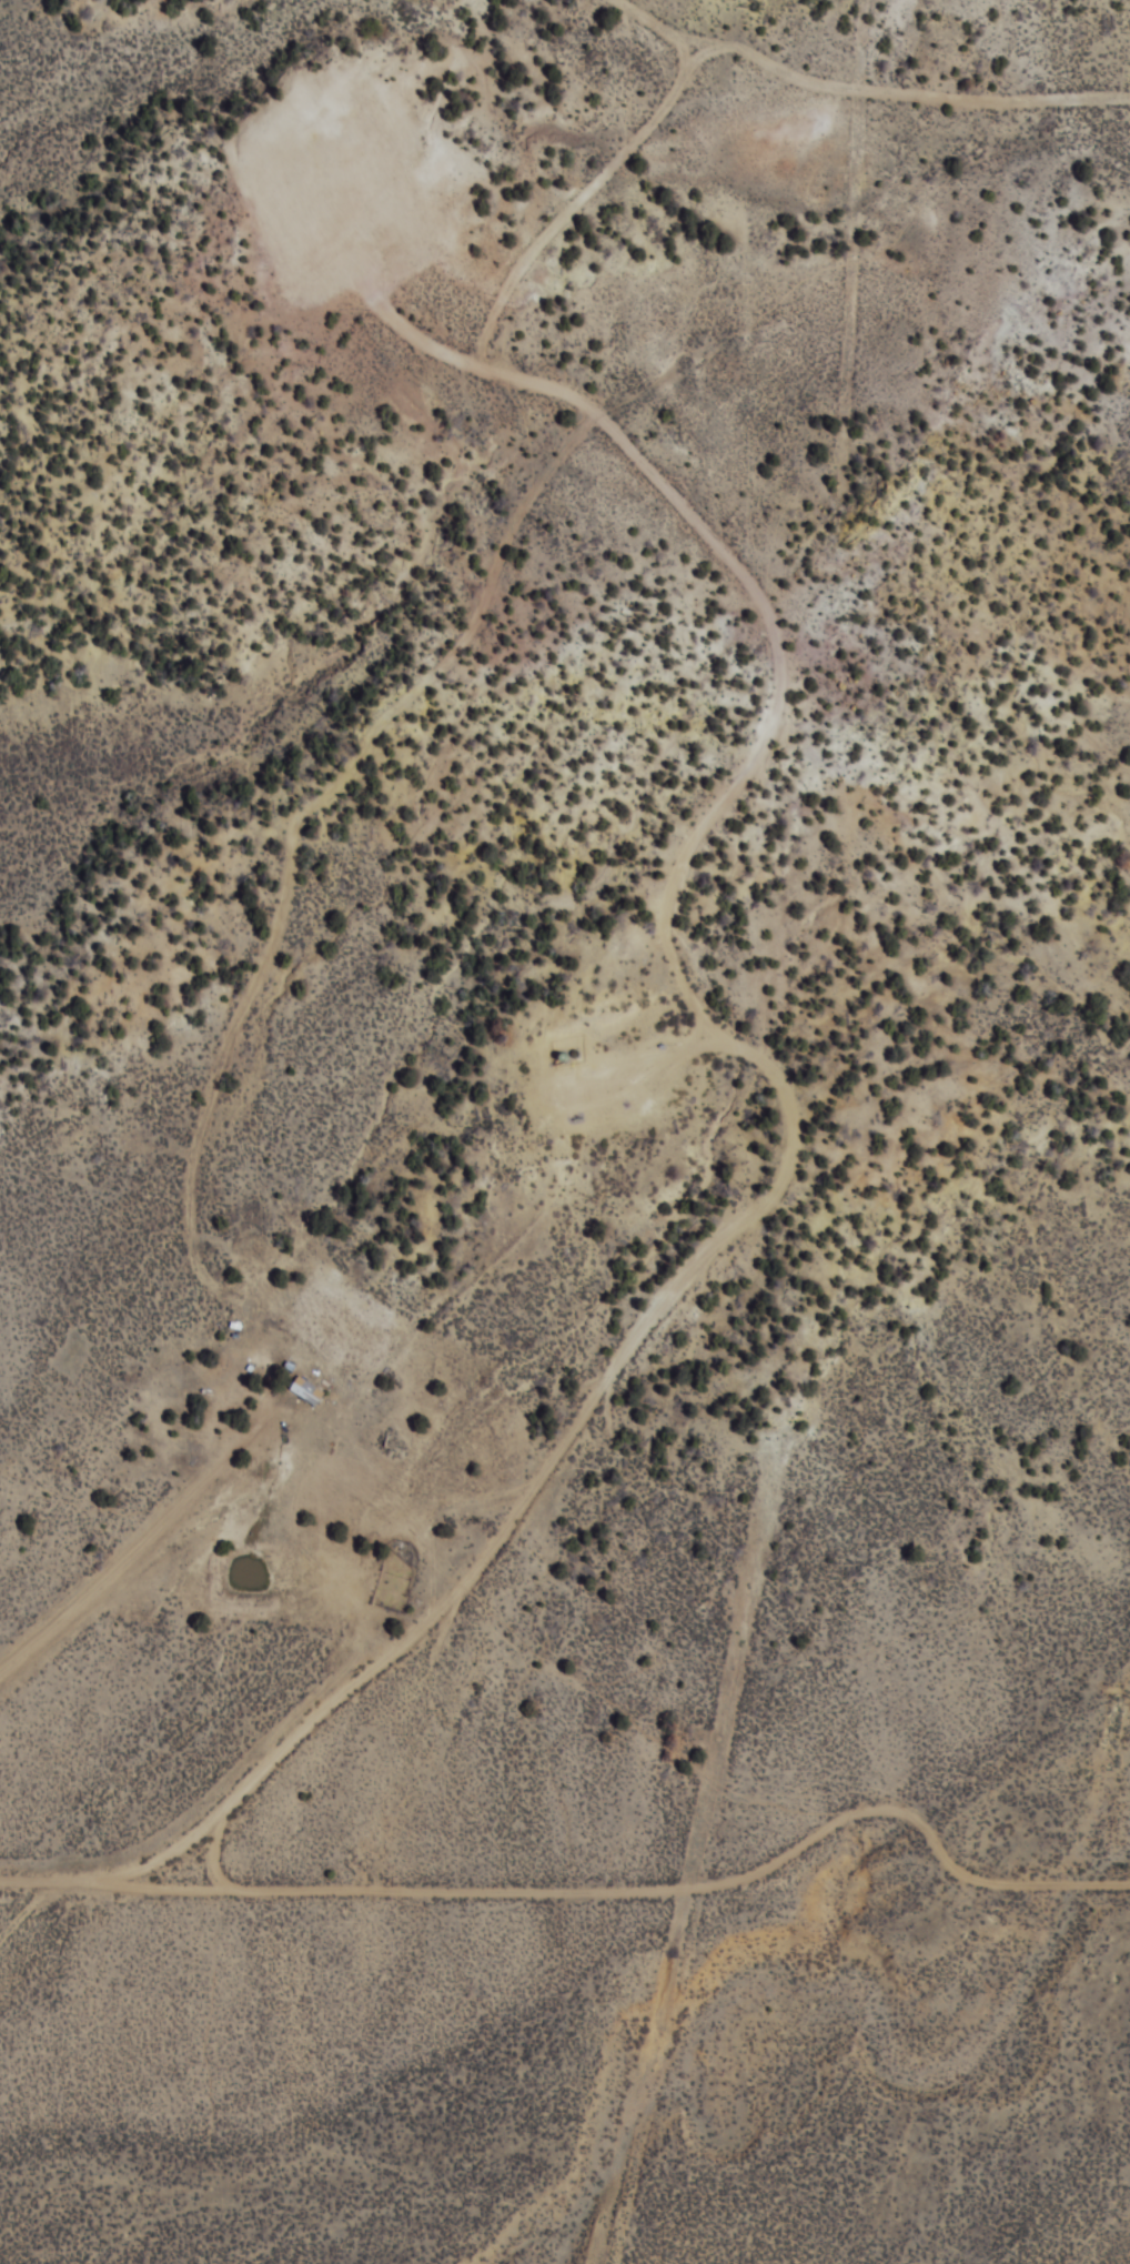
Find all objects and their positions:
building: (305, 1392)
road: (564, 1934)

